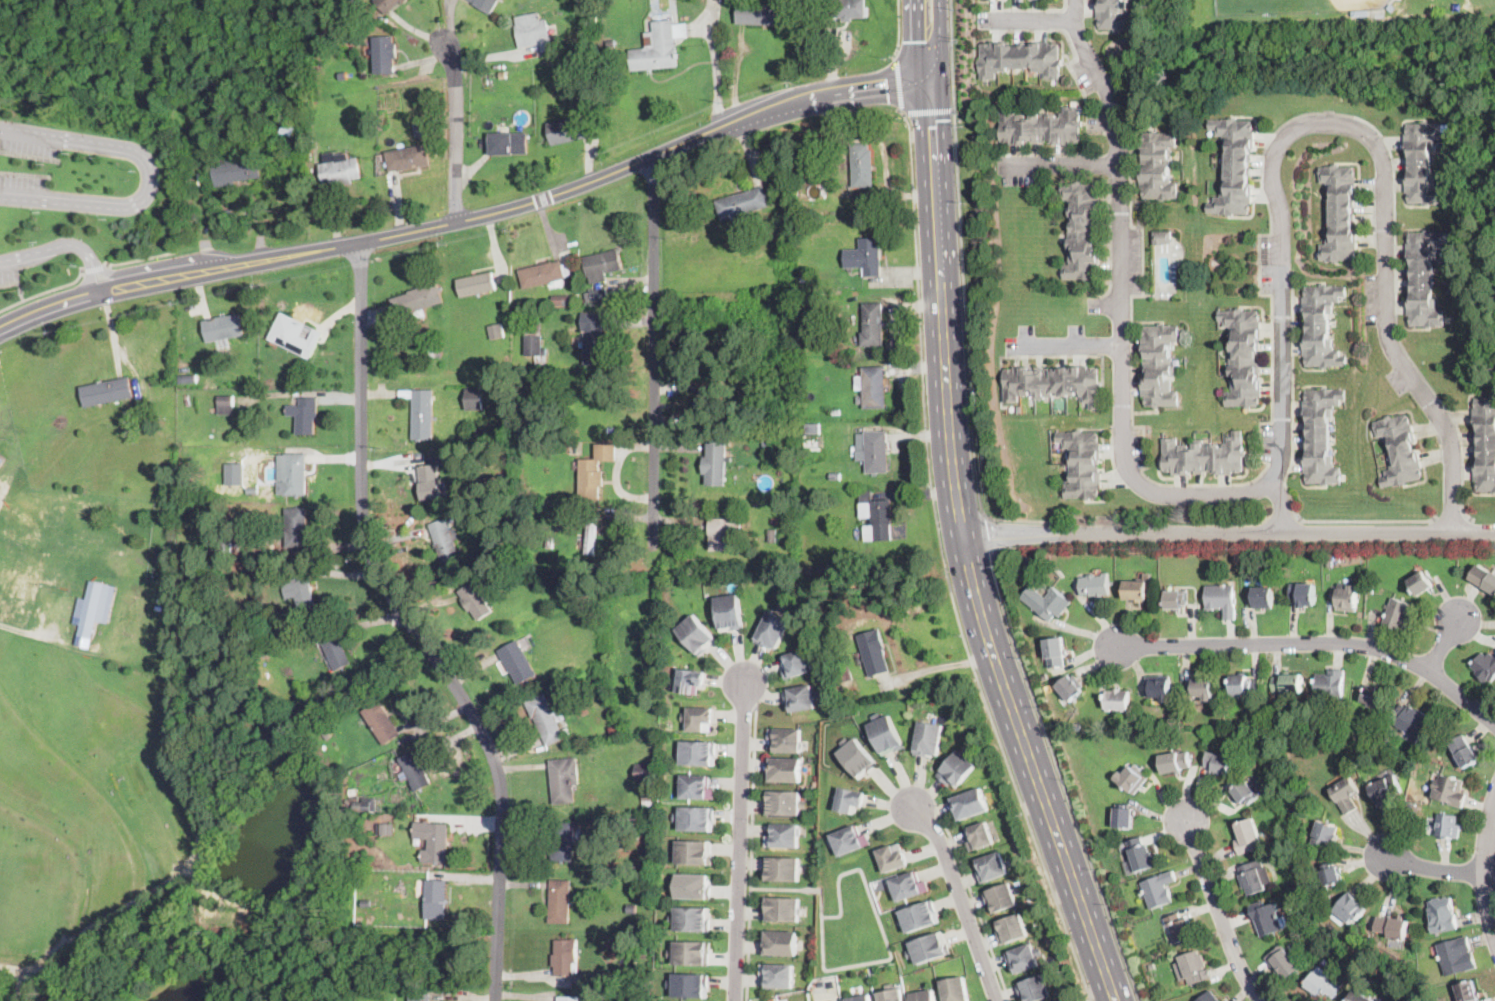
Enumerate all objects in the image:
building: (388, 4)
building: (485, 4)
park: (1294, 5)
building: (1392, 6)
building: (848, 9)
road: (1026, 9)
building: (1361, 11)
building: (756, 13)
building: (1116, 14)
road: (1033, 21)
road: (899, 27)
building: (535, 31)
building: (562, 39)
traffic signals: (920, 39)
road: (920, 41)
building: (610, 42)
building: (658, 46)
road: (924, 46)
park: (1325, 46)
building: (384, 54)
building: (1020, 57)
road: (713, 64)
road: (736, 74)
building: (506, 75)
road: (900, 80)
road: (932, 82)
traffic signals: (887, 87)
building: (252, 99)
road: (929, 109)
building: (254, 115)
traffic signals: (945, 119)
building: (1040, 127)
building: (420, 128)
road: (457, 128)
building: (569, 129)
building: (290, 130)
building: (507, 143)
road: (29, 156)
building: (406, 158)
building: (1424, 161)
building: (233, 164)
road: (1060, 164)
building: (862, 165)
building: (1158, 166)
building: (1234, 167)
building: (338, 169)
road: (152, 177)
building: (742, 203)
building: (1338, 213)
road: (464, 220)
building: (1082, 231)
building: (1163, 237)
road: (41, 252)
building: (865, 256)
road: (140, 259)
building: (602, 264)
road: (95, 267)
road: (92, 271)
road: (112, 273)
building: (544, 274)
building: (804, 279)
building: (1424, 279)
building: (476, 284)
road: (9, 285)
road: (46, 292)
building: (597, 294)
road: (1261, 294)
road: (23, 297)
building: (563, 300)
building: (581, 301)
building: (416, 303)
road: (1109, 305)
building: (872, 324)
building: (1321, 326)
building: (309, 328)
building: (314, 328)
building: (223, 329)
building: (496, 333)
building: (293, 335)
building: (594, 338)
building: (722, 339)
building: (534, 342)
road: (1065, 344)
building: (433, 349)
road: (653, 351)
building: (1243, 358)
building: (183, 363)
building: (1159, 365)
building: (1445, 365)
road: (1281, 369)
building: (188, 378)
building: (1052, 383)
building: (871, 387)
building: (107, 391)
building: (709, 396)
building: (474, 398)
road: (970, 398)
building: (225, 401)
building: (684, 404)
building: (836, 412)
building: (304, 414)
building: (423, 414)
building: (812, 429)
building: (610, 430)
building: (1396, 432)
building: (1320, 435)
building: (811, 439)
building: (1485, 442)
building: (873, 451)
building: (1204, 456)
building: (2, 465)
building: (713, 465)
building: (1082, 465)
building: (1404, 466)
building: (292, 472)
building: (234, 473)
building: (835, 476)
building: (591, 478)
building: (430, 482)
building: (228, 505)
road: (1279, 505)
road: (970, 512)
building: (876, 517)
road: (1451, 518)
building: (772, 519)
road: (1281, 519)
road: (1368, 520)
building: (295, 527)
building: (782, 532)
road: (1224, 533)
building: (719, 534)
building: (771, 534)
road: (988, 534)
building: (589, 539)
building: (445, 540)
building: (222, 552)
road: (956, 553)
building: (1027, 560)
building: (1249, 560)
building: (1330, 564)
road: (944, 565)
building: (848, 569)
building: (862, 570)
building: (1420, 583)
building: (1490, 583)
building: (1095, 585)
building: (1138, 588)
building: (299, 590)
building: (1371, 590)
building: (1304, 594)
building: (1261, 597)
building: (1346, 597)
building: (1222, 599)
building: (1176, 600)
building: (475, 601)
building: (1047, 602)
building: (90, 609)
building: (729, 612)
building: (1399, 614)
road: (20, 629)
road: (407, 629)
building: (771, 631)
building: (697, 635)
road: (1318, 642)
road: (1442, 646)
building: (334, 650)
building: (873, 652)
building: (1055, 652)
building: (517, 662)
building: (793, 664)
building: (1485, 667)
building: (844, 674)
building: (1044, 675)
building: (689, 681)
building: (1288, 683)
building: (1244, 686)
building: (1331, 687)
building: (1070, 688)
building: (1158, 688)
building: (1202, 689)
building: (1377, 697)
building: (799, 698)
building: (1117, 699)
building: (1219, 711)
building: (547, 719)
building: (698, 720)
building: (1412, 721)
building: (381, 722)
building: (1077, 727)
building: (1160, 727)
building: (886, 735)
building: (929, 740)
building: (785, 741)
building: (1464, 752)
building: (697, 753)
building: (858, 758)
building: (1175, 762)
building: (1218, 762)
building: (784, 770)
building: (956, 770)
building: (414, 771)
building: (646, 772)
road: (1060, 777)
building: (1132, 778)
building: (564, 779)
building: (696, 788)
building: (1449, 790)
building: (1386, 791)
building: (353, 792)
building: (1244, 793)
building: (649, 795)
building: (1347, 795)
building: (850, 798)
building: (783, 803)
building: (969, 804)
building: (367, 805)
building: (1409, 807)
building: (653, 812)
building: (1124, 817)
building: (695, 818)
building: (1447, 825)
building: (387, 830)
building: (1325, 834)
building: (781, 836)
building: (1247, 836)
building: (978, 837)
building: (432, 840)
building: (561, 841)
building: (850, 841)
road: (740, 842)
building: (1288, 848)
road: (750, 853)
building: (693, 854)
building: (1140, 855)
building: (892, 857)
building: (990, 868)
building: (780, 869)
road: (1436, 869)
road: (1488, 869)
building: (1331, 875)
building: (1254, 877)
building: (908, 886)
building: (691, 887)
building: (1159, 890)
building: (999, 899)
building: (436, 900)
road: (973, 900)
building: (559, 901)
road: (961, 901)
building: (366, 904)
building: (631, 909)
building: (779, 910)
building: (1348, 910)
road: (1220, 913)
building: (1442, 915)
building: (919, 917)
building: (1266, 918)
building: (691, 920)
building: (1011, 926)
building: (1393, 926)
building: (1180, 929)
building: (778, 944)
building: (928, 948)
building: (640, 950)
building: (690, 953)
building: (564, 956)
building: (1456, 956)
building: (1022, 958)
road: (869, 962)
building: (1283, 963)
building: (1195, 968)
building: (873, 970)
building: (776, 975)
road: (17, 976)
building: (581, 976)
building: (821, 983)
building: (1323, 983)
building: (688, 985)
building: (1033, 987)
building: (954, 990)
building: (57, 991)
building: (1467, 991)
building: (614, 993)
building: (891, 994)
building: (419, 996)
building: (923, 996)
building: (1208, 997)
building: (1359, 997)
building: (860, 998)
building: (569, 999)

